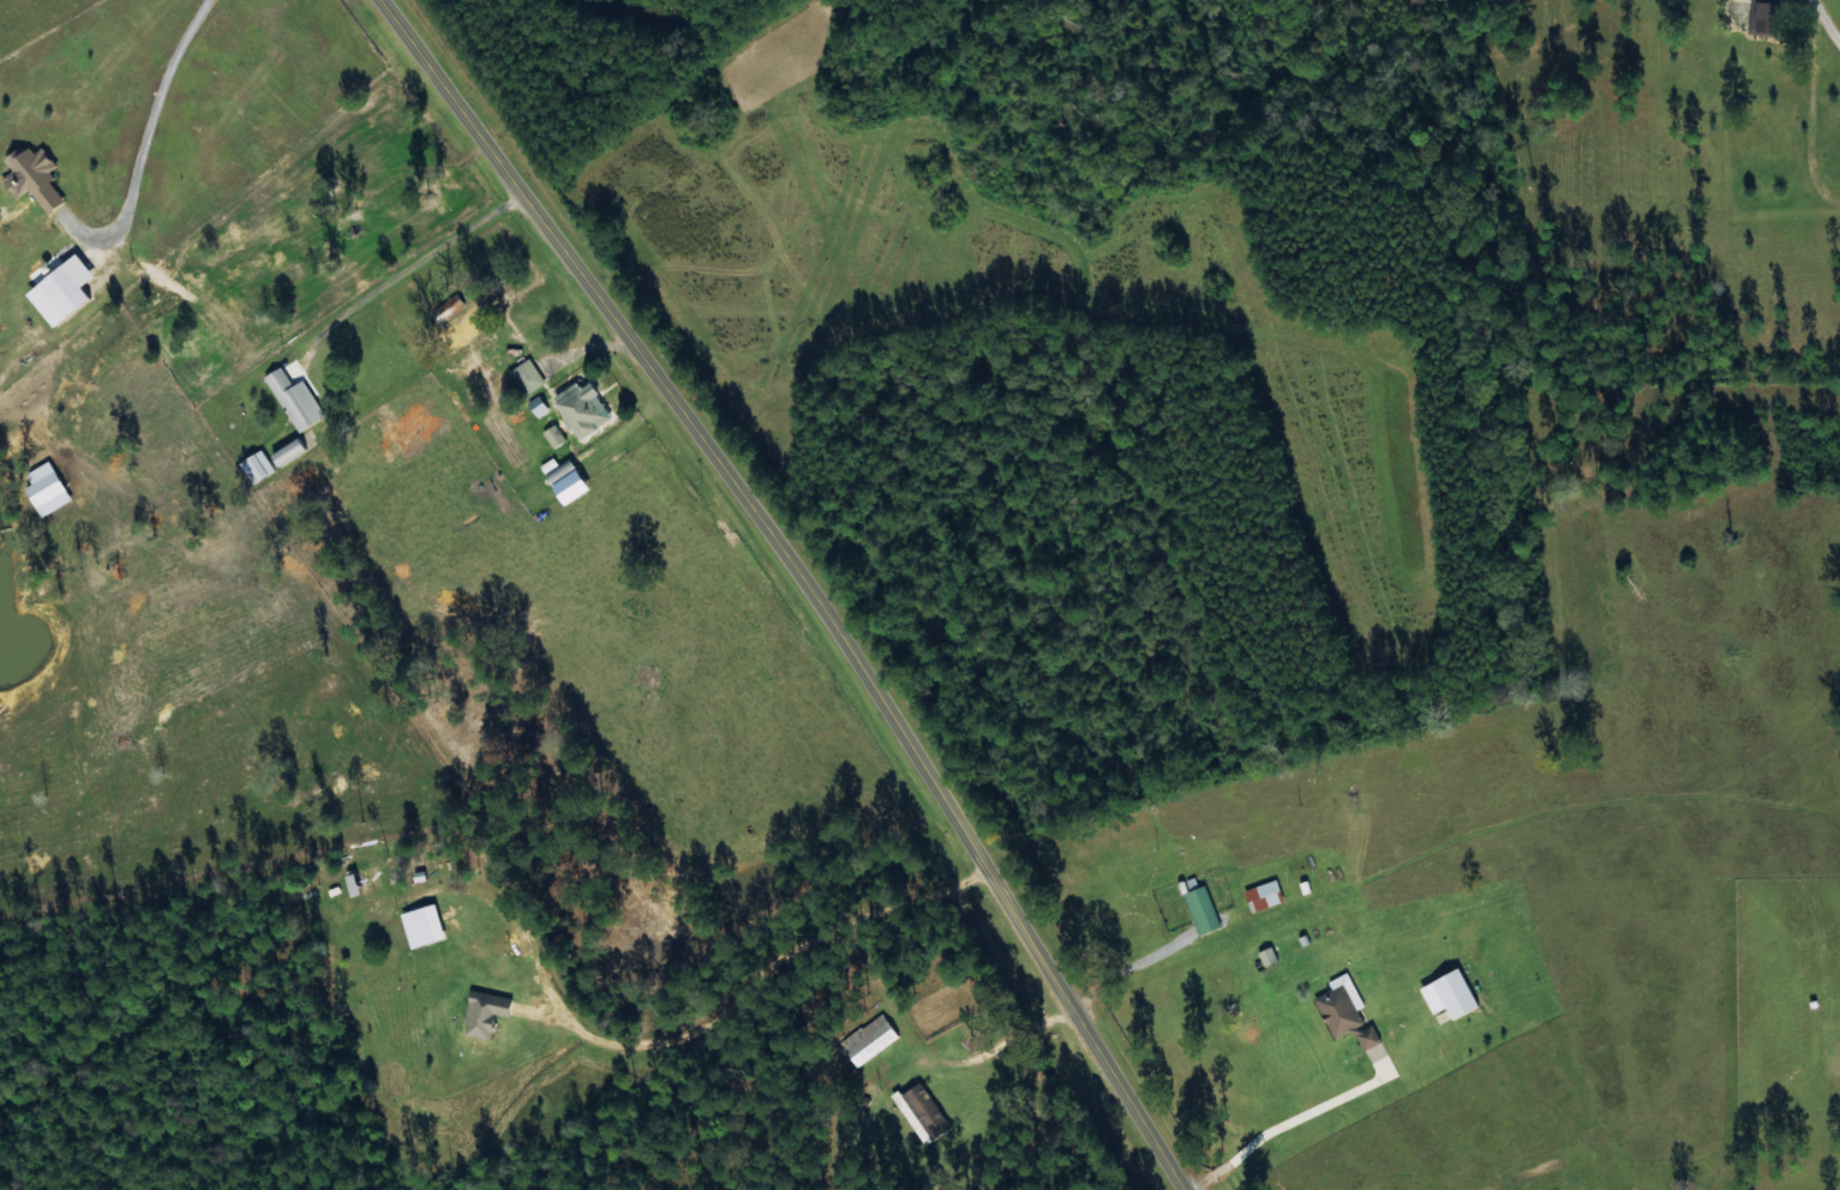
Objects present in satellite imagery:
building: (1762, 17)
road: (1815, 124)
building: (31, 175)
building: (60, 289)
building: (527, 375)
building: (293, 398)
building: (537, 405)
building: (581, 408)
building: (43, 488)
road: (802, 579)
building: (1263, 895)
building: (1201, 909)
building: (421, 925)
building: (1266, 956)
building: (1448, 993)
building: (1344, 1010)
building: (484, 1012)
building: (868, 1039)

